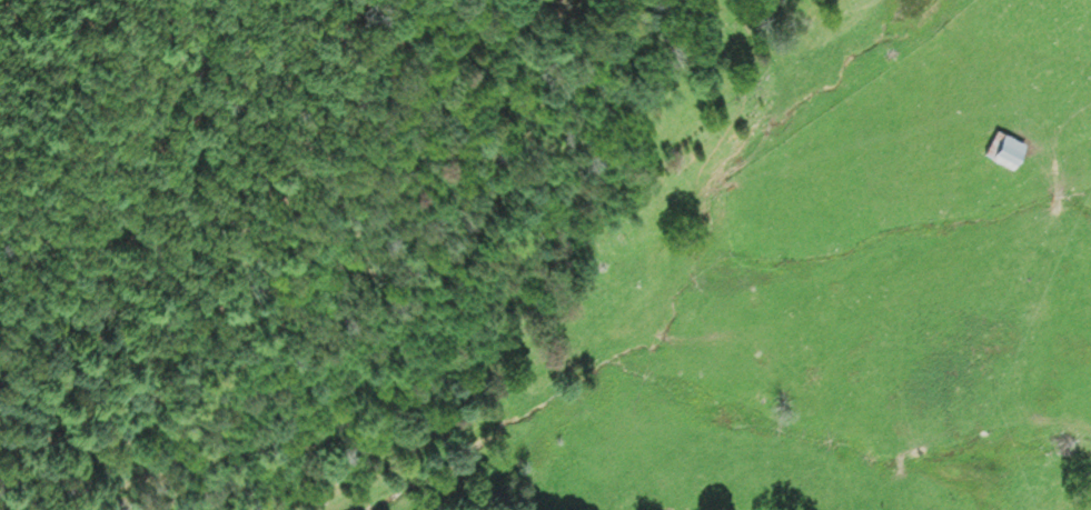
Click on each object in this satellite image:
road: (1061, 126)
building: (1006, 148)

